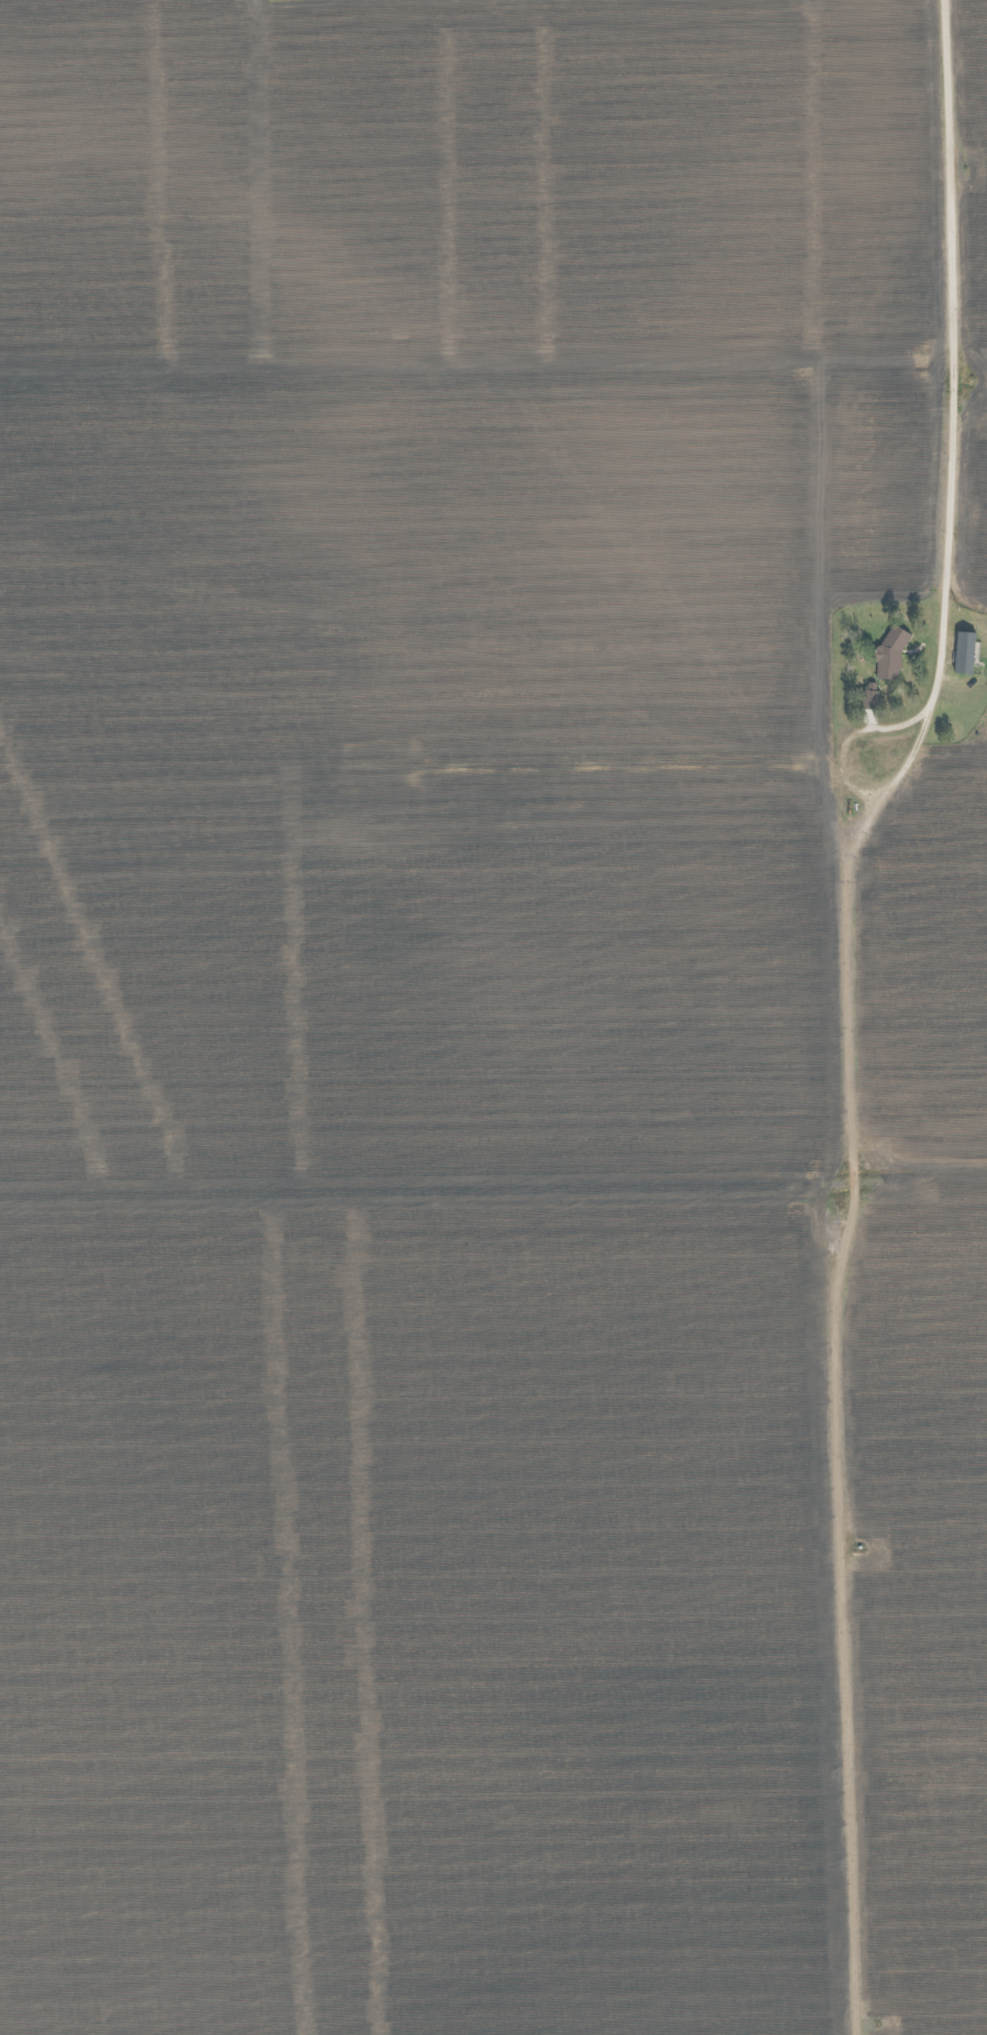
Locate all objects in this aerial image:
building: (872, 696)
road: (846, 1017)

